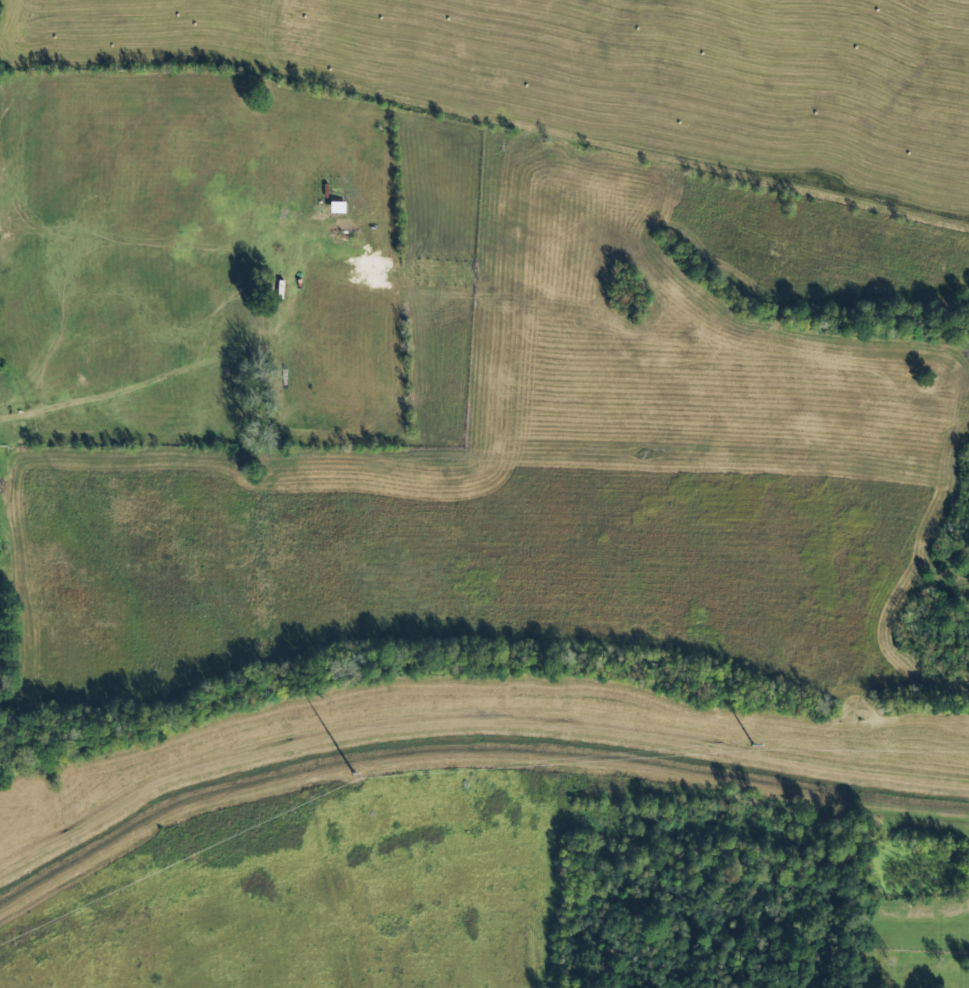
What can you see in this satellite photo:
building: (336, 207)

